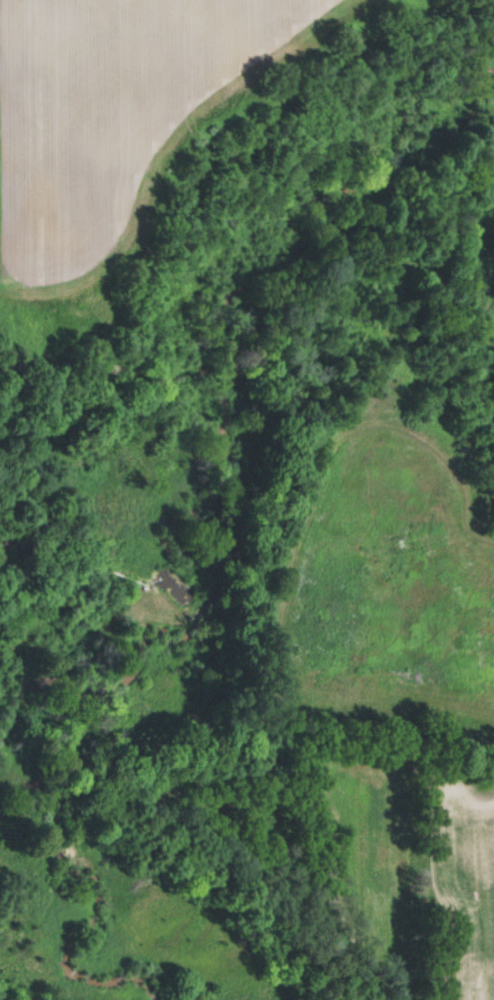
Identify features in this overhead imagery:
road: (322, 739)

